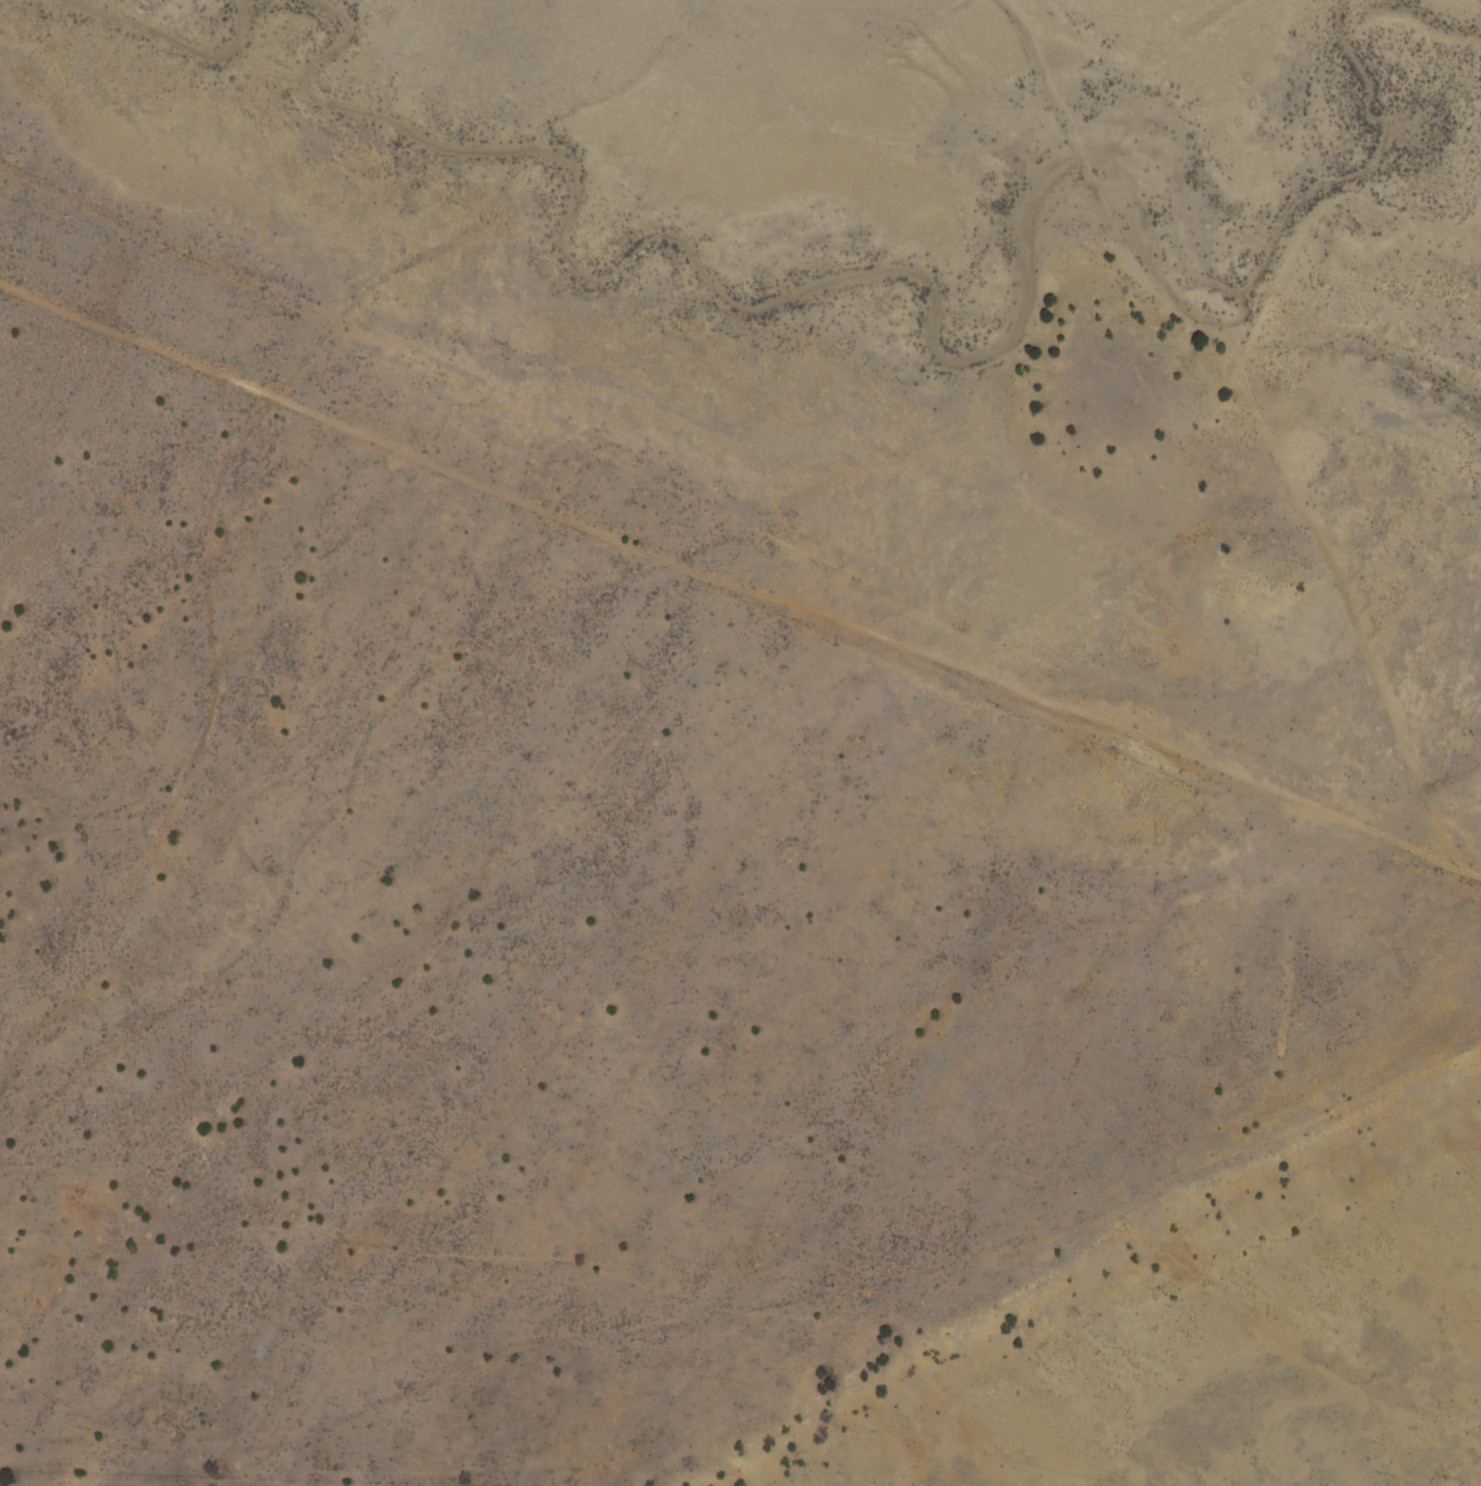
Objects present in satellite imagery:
road: (1256, 1356)

